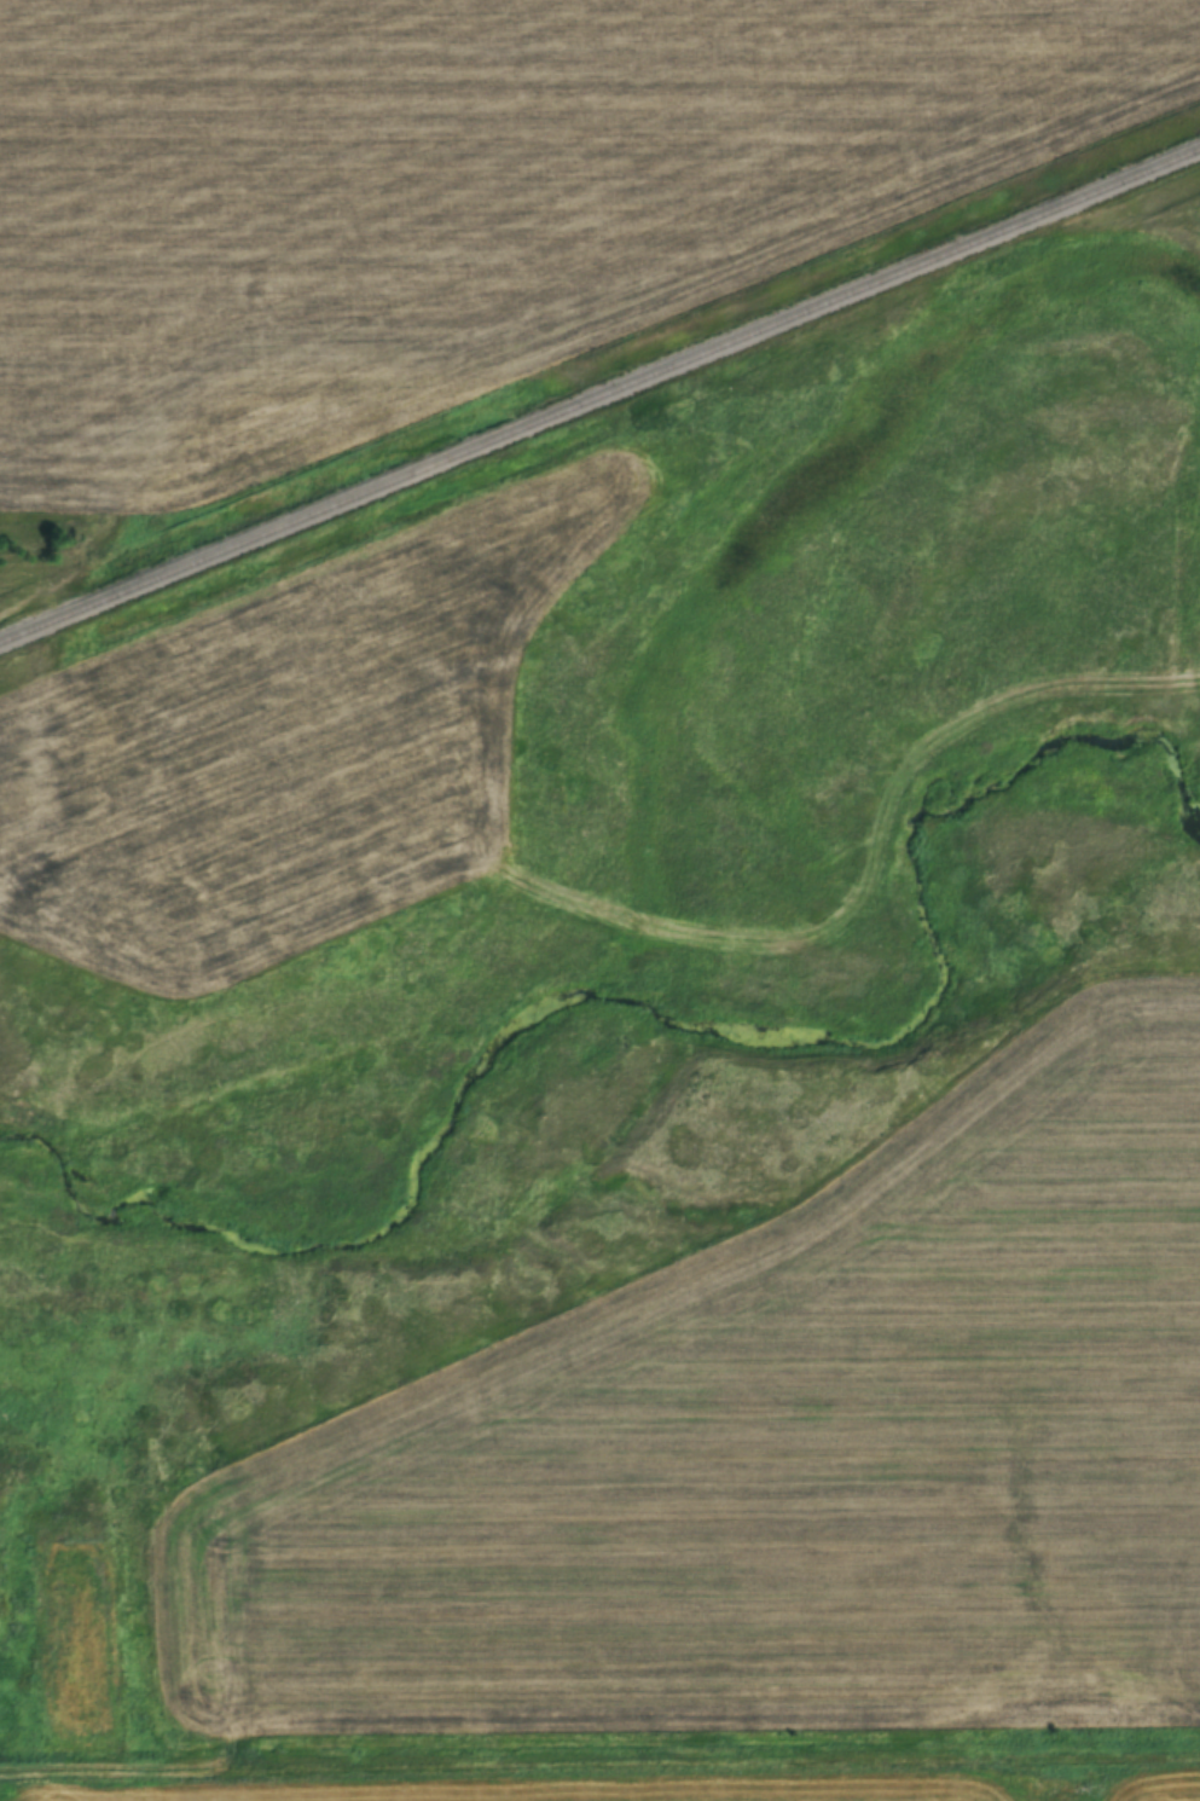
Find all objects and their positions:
railway: (599, 404)

